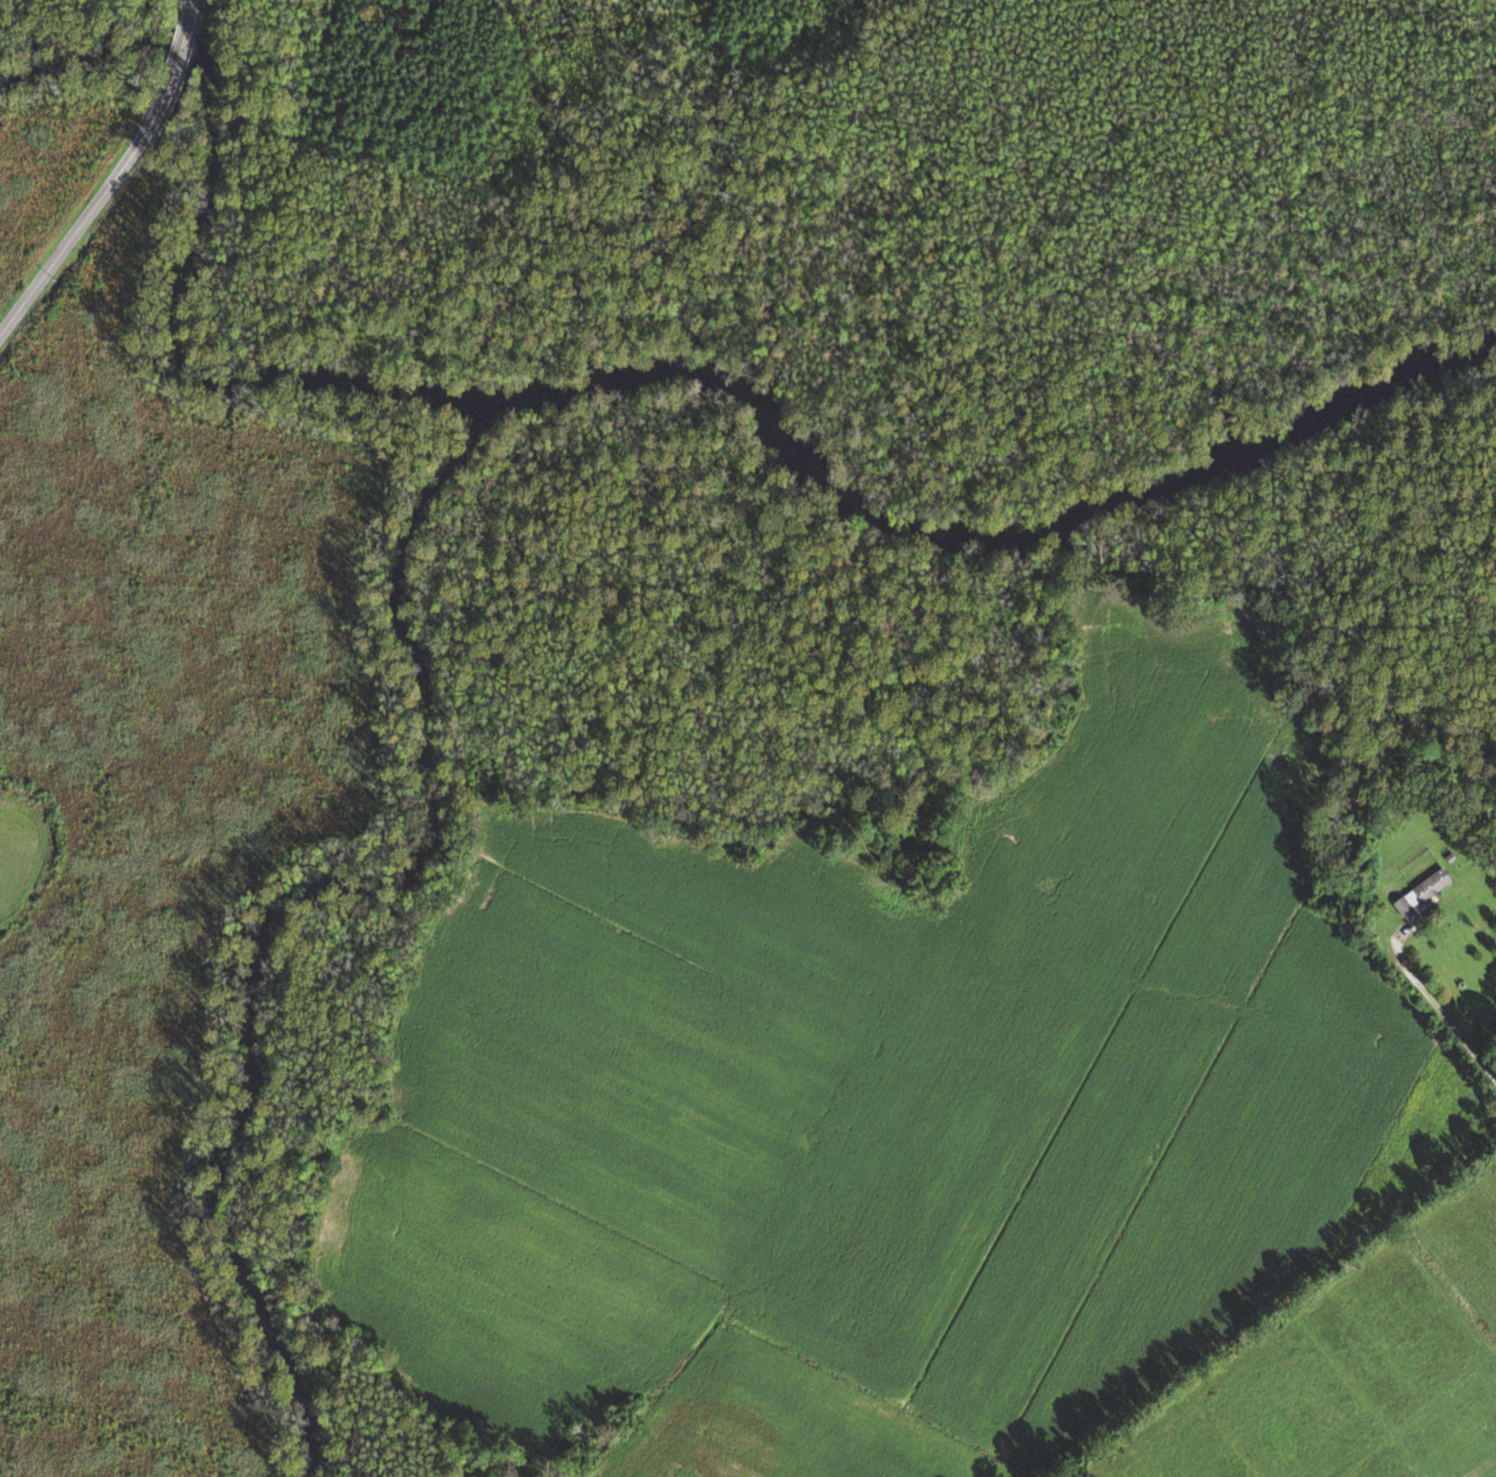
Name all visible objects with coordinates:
road: (115, 178)
building: (1434, 884)
building: (1404, 906)

